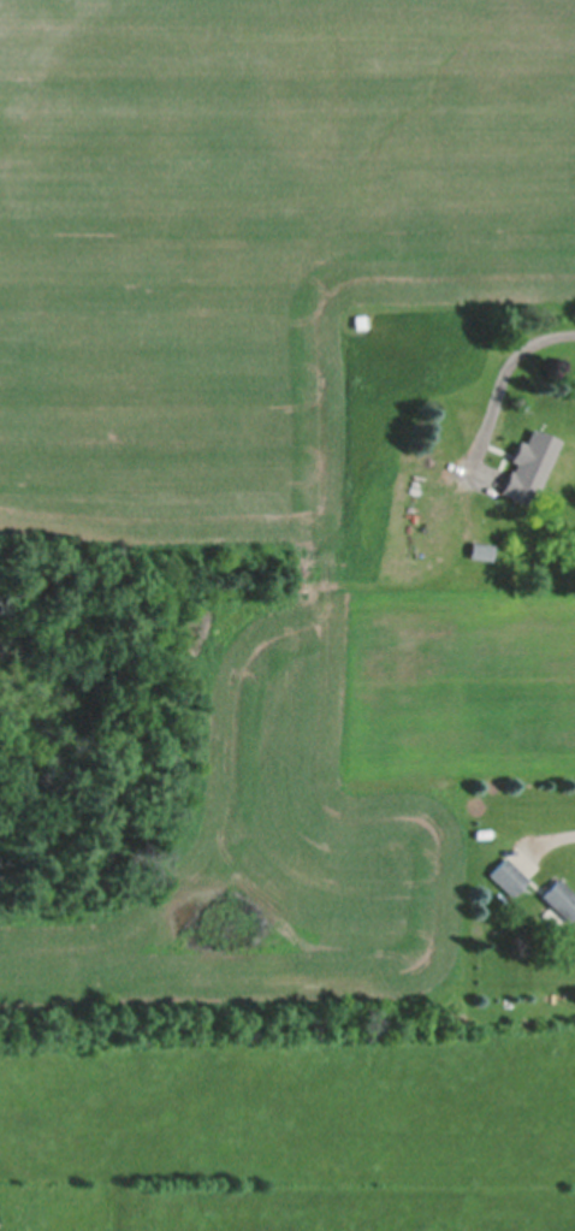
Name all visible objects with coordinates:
road: (509, 368)
building: (447, 428)
building: (429, 517)
building: (485, 551)
building: (508, 877)
building: (561, 900)

